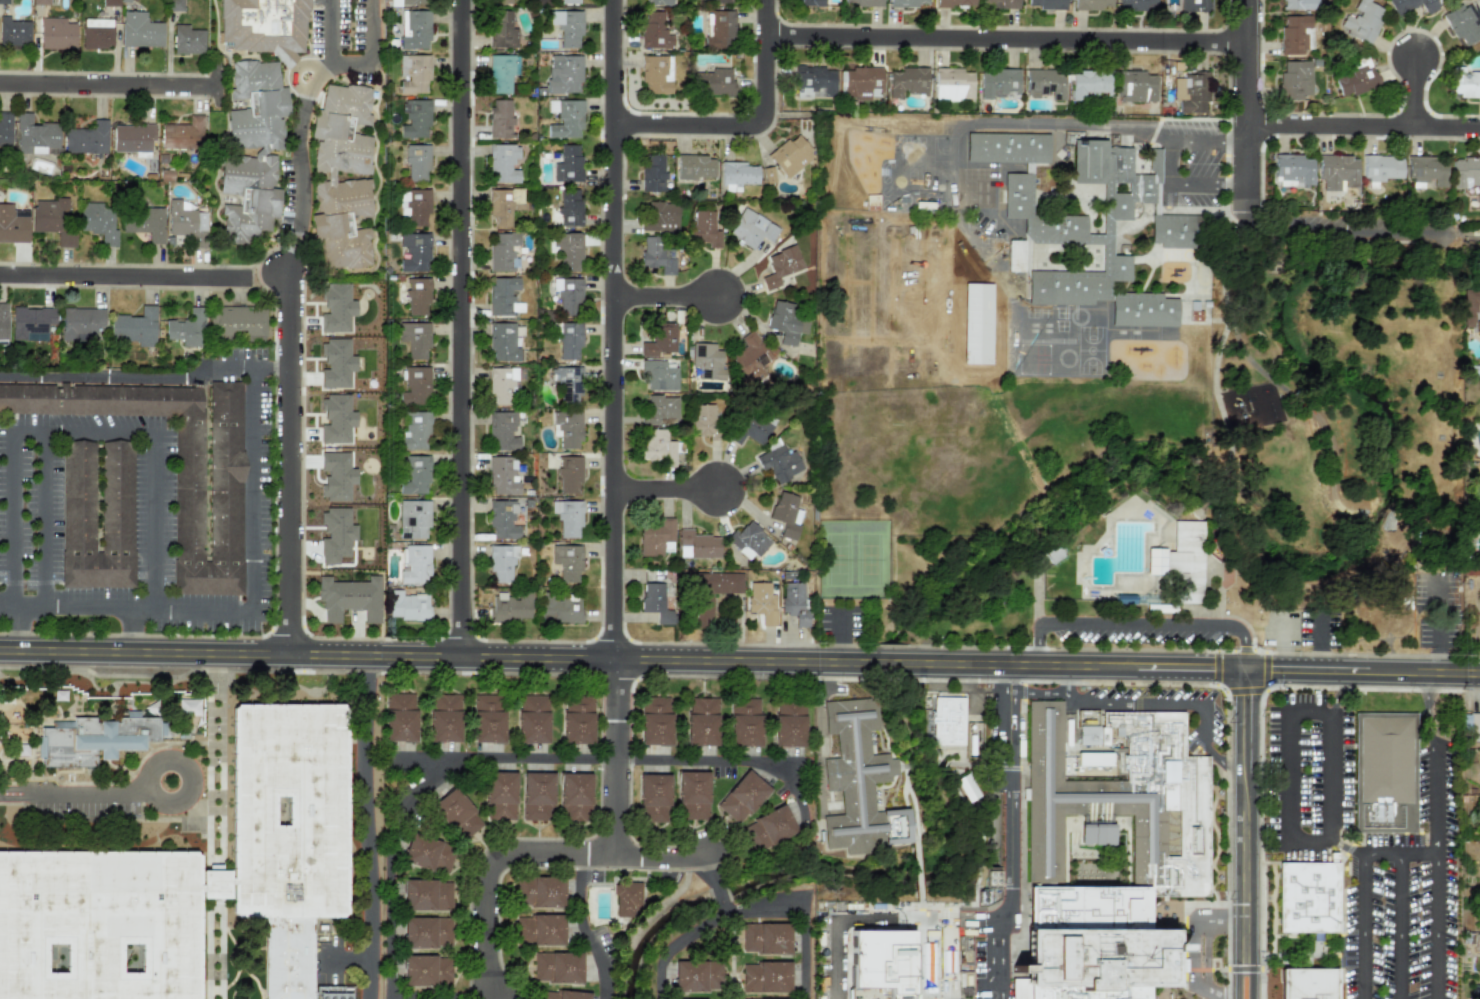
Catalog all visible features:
building: (499, 1)
building: (570, 1)
building: (722, 1)
building: (414, 2)
building: (656, 2)
building: (809, 2)
building: (862, 2)
building: (955, 2)
building: (908, 3)
building: (1136, 3)
building: (1000, 4)
building: (1046, 4)
building: (1092, 4)
building: (1298, 4)
building: (1194, 5)
building: (1411, 5)
building: (1361, 20)
building: (1463, 22)
building: (263, 25)
building: (567, 26)
building: (414, 29)
building: (501, 29)
building: (719, 29)
building: (140, 30)
building: (654, 31)
building: (14, 32)
building: (56, 33)
building: (96, 33)
building: (1294, 34)
building: (187, 39)
road: (1008, 54)
road: (349, 65)
building: (501, 72)
building: (414, 73)
building: (564, 74)
building: (656, 74)
building: (1356, 77)
building: (1294, 80)
road: (107, 81)
building: (907, 81)
building: (714, 82)
building: (813, 82)
building: (861, 82)
building: (999, 83)
building: (1044, 83)
building: (1089, 83)
building: (1464, 83)
building: (952, 84)
building: (1136, 87)
building: (1191, 92)
road: (1411, 104)
road: (1245, 110)
building: (414, 118)
building: (499, 118)
building: (565, 118)
building: (5, 129)
building: (183, 134)
building: (34, 135)
building: (86, 138)
road: (1362, 138)
building: (132, 139)
road: (762, 139)
building: (1007, 148)
building: (261, 152)
building: (789, 155)
building: (417, 161)
building: (503, 162)
building: (567, 163)
road: (1166, 163)
building: (695, 167)
building: (1381, 167)
building: (1293, 170)
building: (1426, 170)
building: (1337, 171)
building: (652, 172)
building: (1466, 173)
building: (736, 175)
building: (330, 176)
building: (504, 204)
building: (415, 207)
building: (570, 207)
building: (660, 216)
building: (52, 220)
building: (98, 221)
building: (143, 222)
building: (186, 222)
building: (1081, 222)
building: (13, 224)
building: (703, 228)
building: (751, 228)
building: (1171, 231)
building: (568, 249)
building: (415, 251)
building: (502, 251)
building: (657, 254)
building: (1015, 256)
building: (780, 266)
road: (126, 275)
road: (270, 275)
road: (1222, 288)
building: (502, 295)
building: (568, 295)
building: (418, 296)
road: (671, 301)
building: (3, 321)
building: (785, 321)
building: (31, 322)
building: (81, 322)
building: (237, 322)
building: (134, 327)
building: (187, 328)
road: (468, 332)
building: (415, 338)
building: (569, 339)
building: (659, 340)
building: (502, 341)
road: (290, 355)
building: (749, 358)
building: (706, 361)
road: (210, 367)
building: (658, 375)
road: (85, 379)
building: (566, 382)
building: (415, 385)
building: (502, 385)
building: (1259, 405)
building: (659, 408)
road: (1220, 408)
building: (335, 419)
building: (703, 420)
road: (618, 427)
building: (751, 427)
building: (414, 429)
building: (567, 429)
road: (63, 430)
building: (502, 430)
building: (657, 446)
building: (778, 462)
building: (174, 465)
building: (414, 474)
building: (336, 475)
building: (503, 475)
building: (570, 475)
park: (1235, 478)
road: (670, 495)
building: (78, 496)
road: (252, 496)
road: (1200, 510)
building: (785, 513)
building: (567, 517)
road: (46, 518)
building: (413, 519)
building: (502, 519)
building: (335, 535)
building: (656, 538)
building: (747, 540)
building: (698, 544)
park: (851, 558)
building: (566, 561)
building: (501, 563)
building: (414, 564)
building: (711, 592)
road: (1219, 593)
building: (348, 598)
building: (657, 601)
building: (793, 601)
building: (761, 602)
building: (407, 605)
building: (510, 607)
road: (126, 608)
building: (561, 609)
parking lot: (1439, 612)
road: (1133, 622)
road: (1439, 626)
parking lot: (1137, 630)
road: (133, 633)
road: (1243, 643)
road: (1039, 647)
road: (622, 665)
road: (1362, 671)
road: (1163, 704)
road: (1246, 716)
building: (400, 717)
building: (444, 717)
building: (488, 718)
building: (532, 719)
building: (577, 720)
building: (656, 720)
building: (947, 721)
building: (702, 722)
building: (745, 722)
building: (1473, 723)
building: (91, 725)
building: (789, 725)
road: (424, 758)
road: (514, 759)
road: (191, 772)
building: (1384, 772)
building: (858, 783)
road: (397, 786)
building: (967, 787)
road: (73, 791)
road: (1010, 794)
building: (500, 795)
building: (693, 795)
building: (537, 796)
building: (574, 796)
building: (742, 797)
building: (654, 798)
road: (1433, 800)
building: (290, 812)
building: (457, 814)
building: (768, 828)
building: (1096, 833)
building: (1193, 834)
road: (1307, 840)
road: (1348, 848)
building: (429, 853)
road: (370, 855)
road: (673, 856)
road: (486, 861)
road: (1246, 861)
building: (990, 877)
building: (540, 891)
building: (427, 895)
road: (720, 895)
building: (626, 898)
building: (1309, 898)
road: (756, 908)
road: (727, 911)
building: (99, 925)
road: (1363, 927)
road: (584, 928)
road: (1401, 928)
road: (1434, 928)
building: (539, 930)
building: (427, 932)
building: (765, 938)
road: (837, 944)
road: (998, 950)
road: (1195, 951)
road: (1208, 954)
building: (289, 958)
building: (883, 961)
building: (557, 967)
building: (426, 970)
building: (698, 975)
building: (766, 977)
road: (1237, 977)
road: (1252, 978)
building: (1310, 984)
road: (998, 991)
building: (563, 995)
road: (437, 996)

